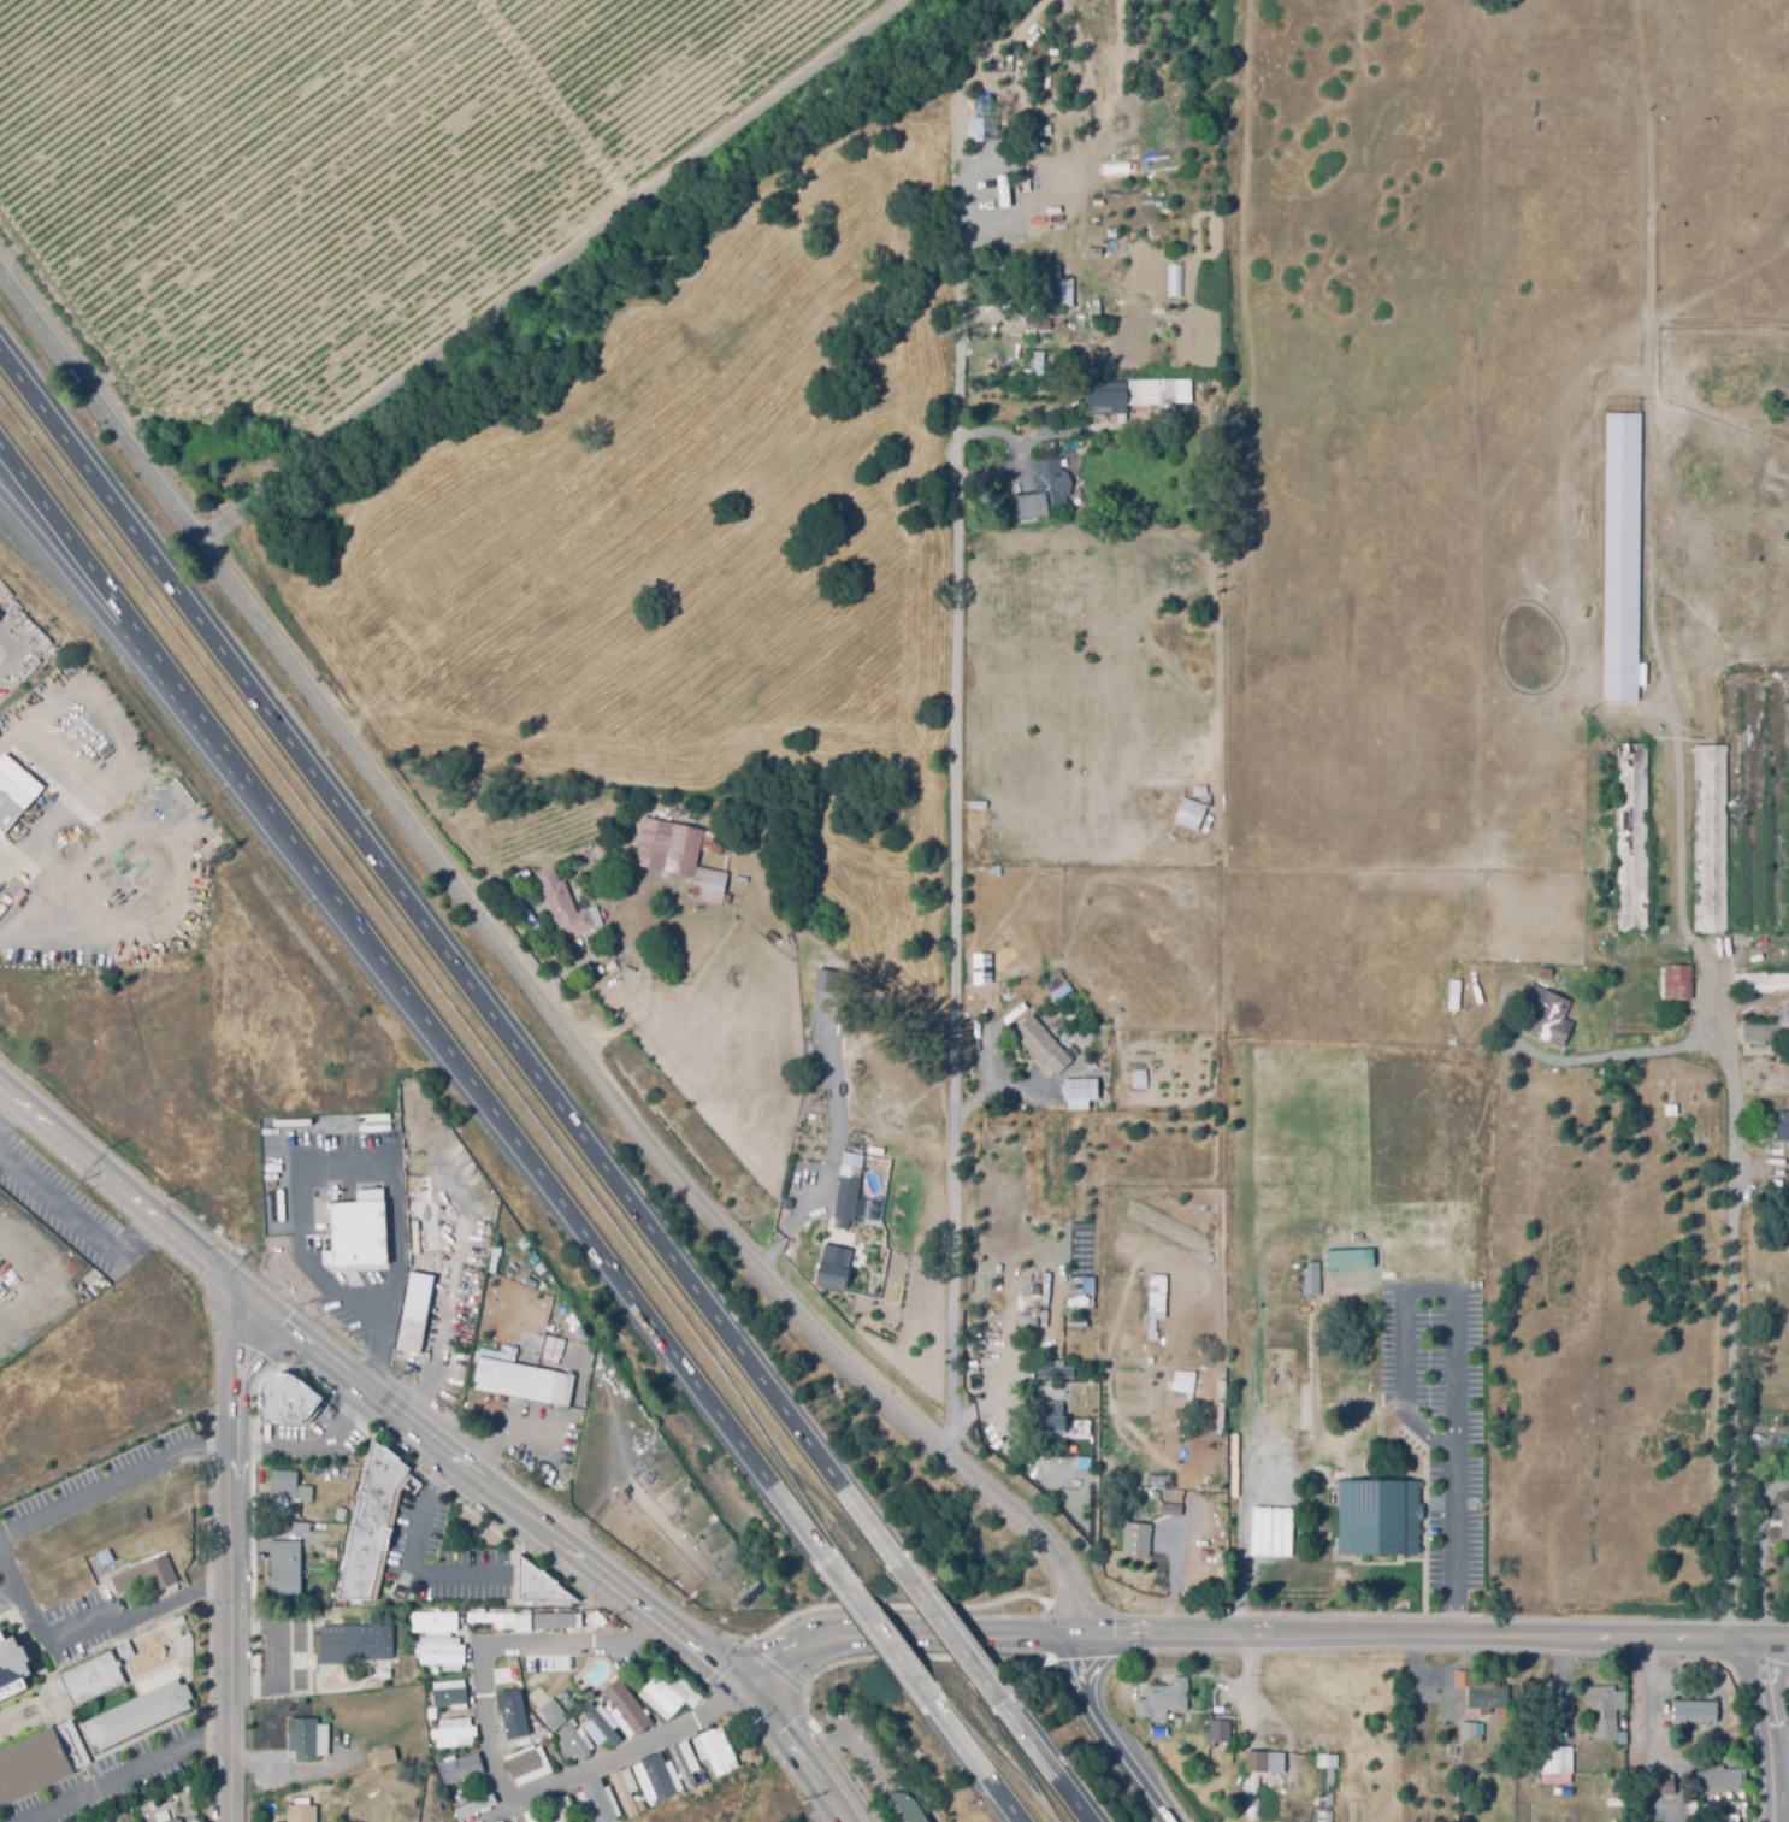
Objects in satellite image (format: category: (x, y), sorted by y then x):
road: (969, 70)
building: (974, 114)
building: (1037, 130)
road: (1090, 136)
road: (952, 243)
building: (1090, 250)
road: (554, 273)
building: (1173, 279)
building: (1046, 288)
building: (1091, 306)
building: (1039, 324)
building: (1032, 362)
building: (1092, 370)
building: (1139, 390)
building: (1100, 397)
building: (1049, 443)
road: (1016, 462)
building: (1038, 490)
building: (1624, 548)
building: (26, 600)
building: (0, 617)
road: (125, 647)
road: (14, 677)
building: (1195, 790)
building: (11, 801)
building: (979, 804)
building: (1186, 812)
building: (1635, 836)
building: (1713, 837)
building: (710, 841)
building: (656, 843)
building: (598, 851)
road: (956, 867)
building: (712, 883)
road: (1678, 891)
building: (565, 903)
building: (524, 912)
building: (678, 961)
road: (451, 966)
road: (520, 977)
building: (828, 979)
building: (1678, 980)
building: (1453, 992)
building: (1784, 1006)
road: (412, 1009)
building: (999, 1013)
building: (1545, 1015)
building: (1070, 1032)
building: (1037, 1043)
building: (1086, 1061)
building: (1094, 1065)
building: (1135, 1078)
building: (1075, 1086)
road: (1012, 1089)
building: (1081, 1104)
building: (1784, 1124)
road: (352, 1171)
road: (1754, 1171)
building: (851, 1185)
building: (796, 1187)
building: (417, 1192)
road: (129, 1196)
road: (432, 1201)
road: (55, 1203)
road: (1732, 1215)
road: (785, 1216)
road: (130, 1232)
building: (425, 1234)
building: (361, 1237)
building: (827, 1268)
building: (1465, 1273)
building: (1312, 1278)
building: (1476, 1283)
building: (1155, 1296)
building: (466, 1307)
building: (413, 1340)
road: (1452, 1343)
building: (1055, 1374)
building: (525, 1385)
building: (1179, 1388)
building: (1345, 1392)
building: (287, 1399)
building: (1307, 1404)
building: (1052, 1407)
building: (1369, 1422)
road: (508, 1426)
building: (1055, 1431)
road: (318, 1449)
building: (1170, 1472)
road: (119, 1485)
building: (290, 1487)
building: (1170, 1508)
building: (340, 1513)
building: (1788, 1516)
building: (1378, 1517)
building: (373, 1526)
building: (300, 1527)
building: (1134, 1539)
road: (572, 1549)
building: (330, 1551)
road: (411, 1558)
road: (235, 1561)
building: (327, 1569)
road: (1183, 1569)
building: (287, 1572)
building: (146, 1574)
building: (537, 1585)
road: (12, 1602)
building: (491, 1617)
building: (553, 1620)
building: (595, 1620)
building: (433, 1621)
road: (87, 1629)
road: (910, 1634)
road: (1435, 1635)
road: (882, 1640)
building: (358, 1643)
road: (952, 1643)
building: (124, 1649)
building: (441, 1652)
road: (277, 1658)
building: (13, 1667)
building: (91, 1680)
building: (449, 1694)
building: (1163, 1696)
building: (1487, 1696)
building: (661, 1697)
road: (1649, 1703)
building: (627, 1706)
building: (1600, 1709)
building: (1694, 1710)
building: (551, 1712)
building: (140, 1716)
building: (604, 1728)
building: (1470, 1729)
road: (1771, 1729)
building: (1218, 1730)
building: (453, 1732)
building: (519, 1733)
road: (1104, 1735)
building: (308, 1739)
building: (574, 1741)
road: (828, 1745)
building: (714, 1751)
building: (388, 1755)
building: (1555, 1757)
road: (498, 1762)
building: (524, 1762)
building: (680, 1764)
road: (1043, 1765)
building: (33, 1768)
building: (460, 1768)
road: (976, 1769)
road: (289, 1775)
building: (1256, 1775)
road: (132, 1776)
building: (656, 1776)
road: (878, 1776)
building: (1717, 1776)
building: (1666, 1783)
building: (1325, 1785)
building: (622, 1792)
building: (597, 1800)
road: (888, 1804)
building: (474, 1805)
building: (907, 1806)
building: (560, 1809)
building: (302, 1814)
building: (530, 1816)
building: (1724, 1816)
building: (176, 1821)
building: (501, 1821)
building: (508, 1821)

